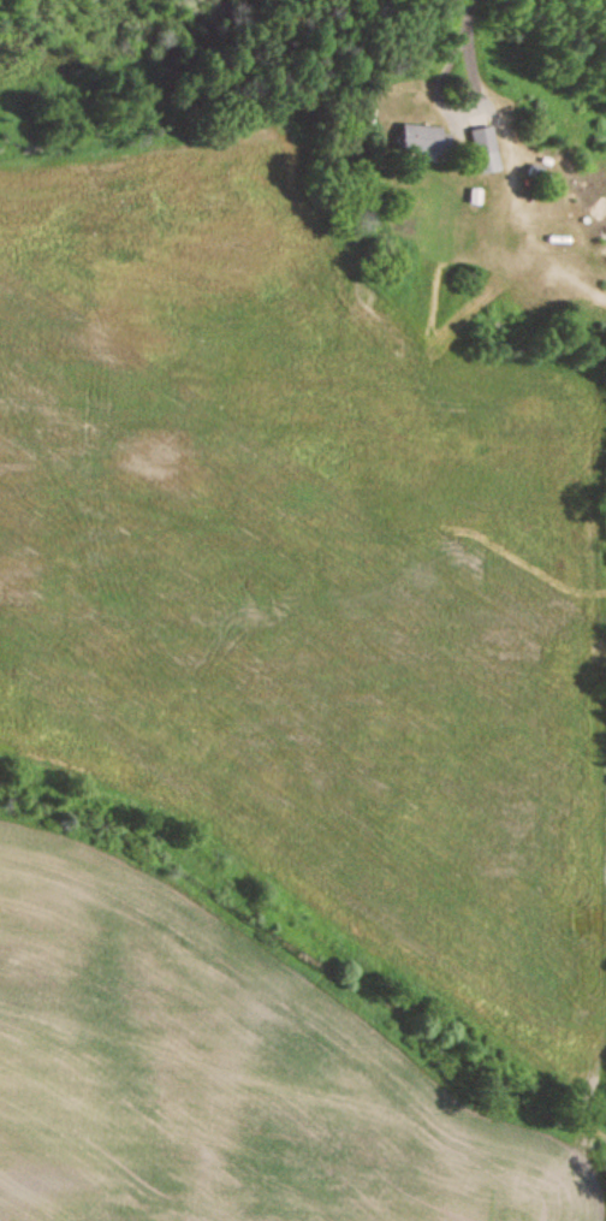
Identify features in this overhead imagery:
road: (468, 18)
road: (454, 112)
building: (416, 143)
building: (482, 153)

